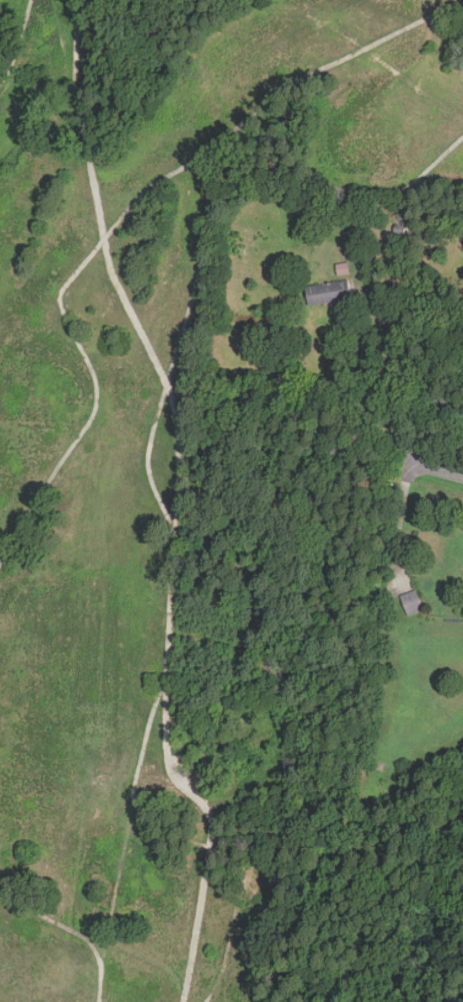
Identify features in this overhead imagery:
building: (327, 292)
road: (389, 369)
road: (437, 472)
road: (400, 528)
building: (412, 602)

